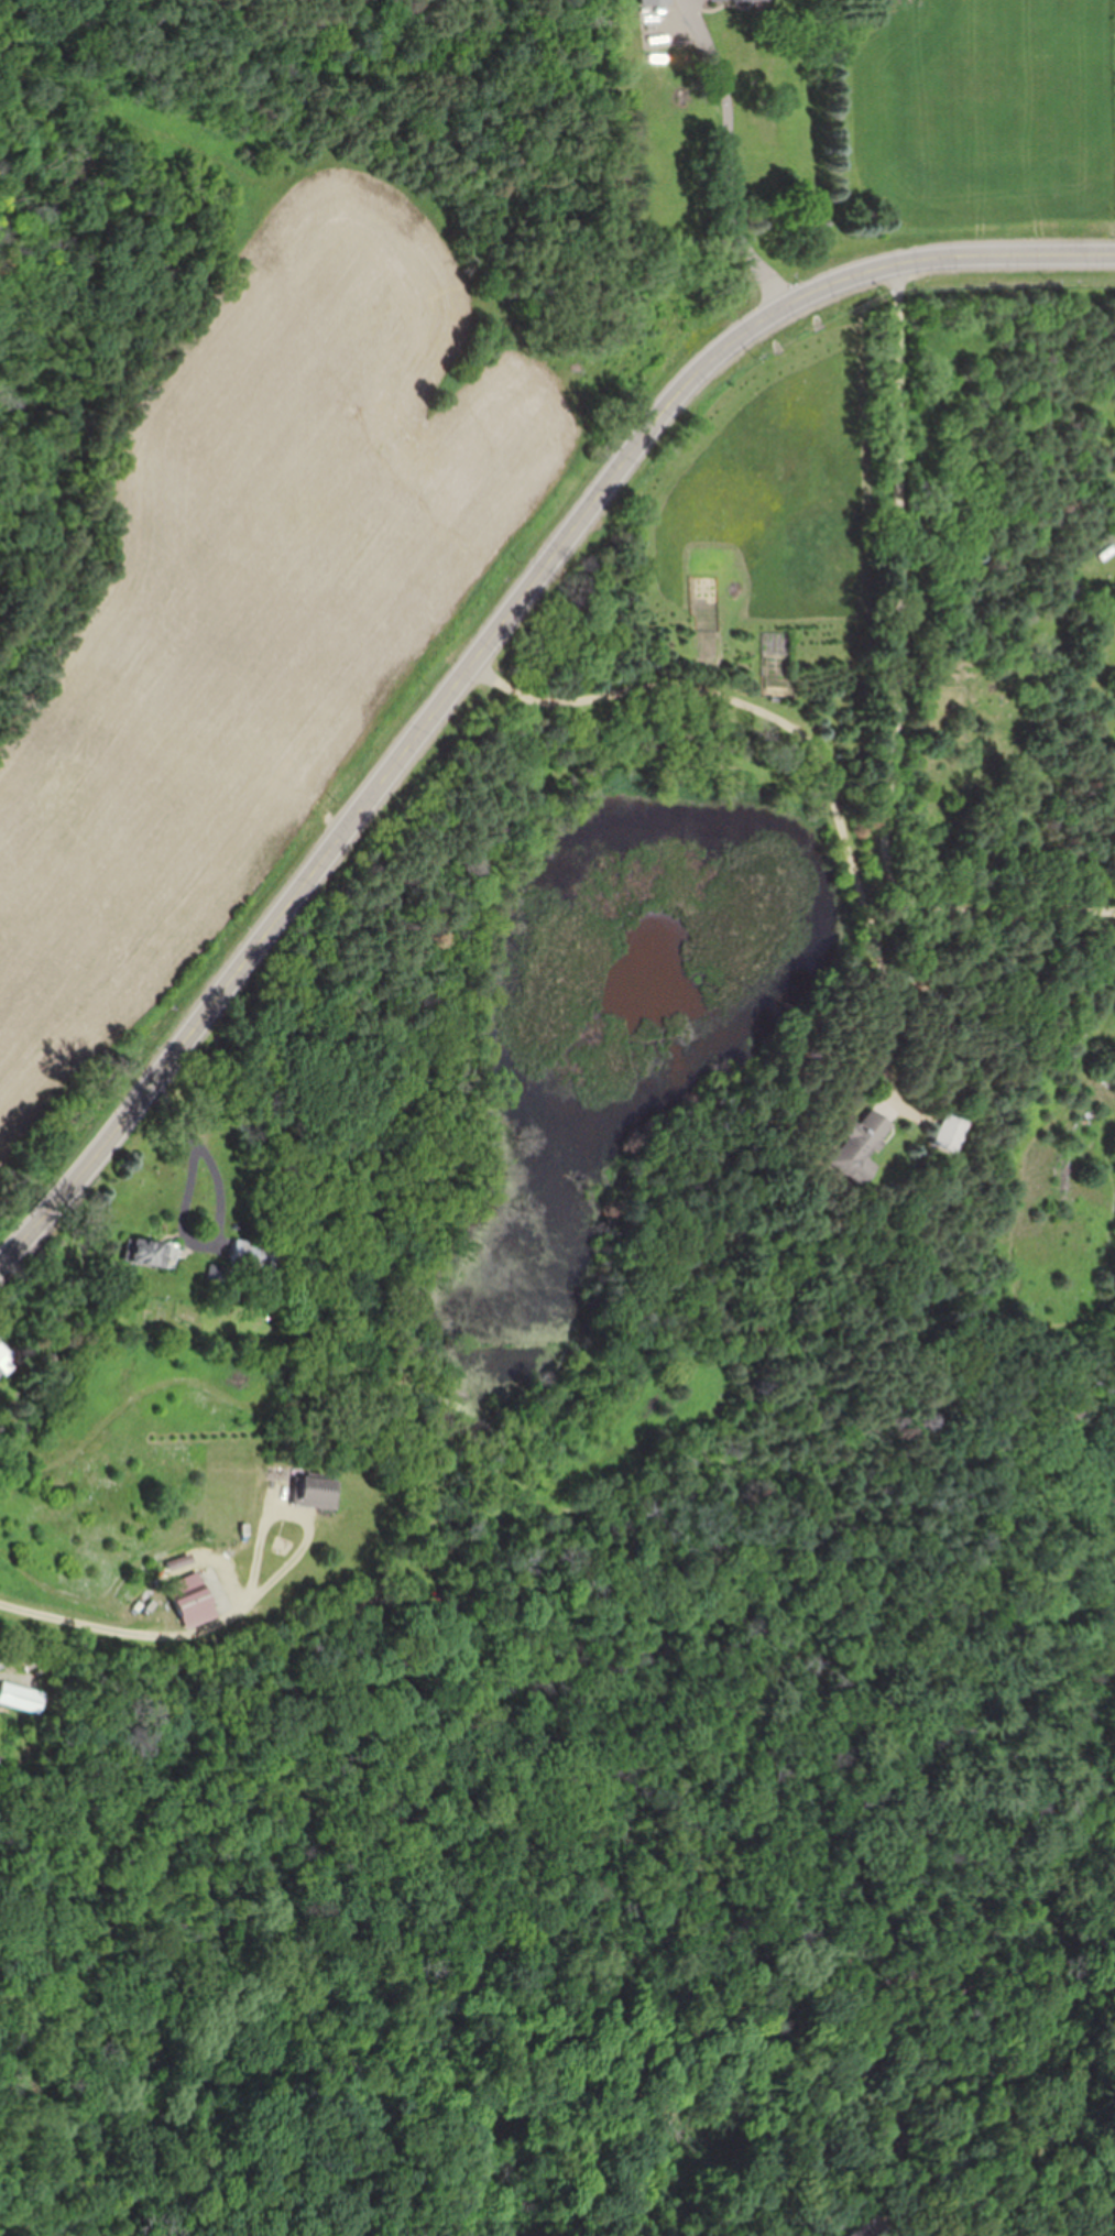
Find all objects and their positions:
building: (784, 74)
building: (669, 116)
road: (729, 175)
road: (608, 203)
road: (907, 588)
road: (500, 641)
road: (823, 773)
road: (890, 1008)
road: (176, 1116)
building: (950, 1130)
building: (857, 1145)
road: (214, 1180)
building: (151, 1251)
building: (249, 1254)
building: (6, 1356)
building: (316, 1491)
road: (304, 1530)
building: (194, 1599)
road: (87, 1622)
building: (26, 1698)

